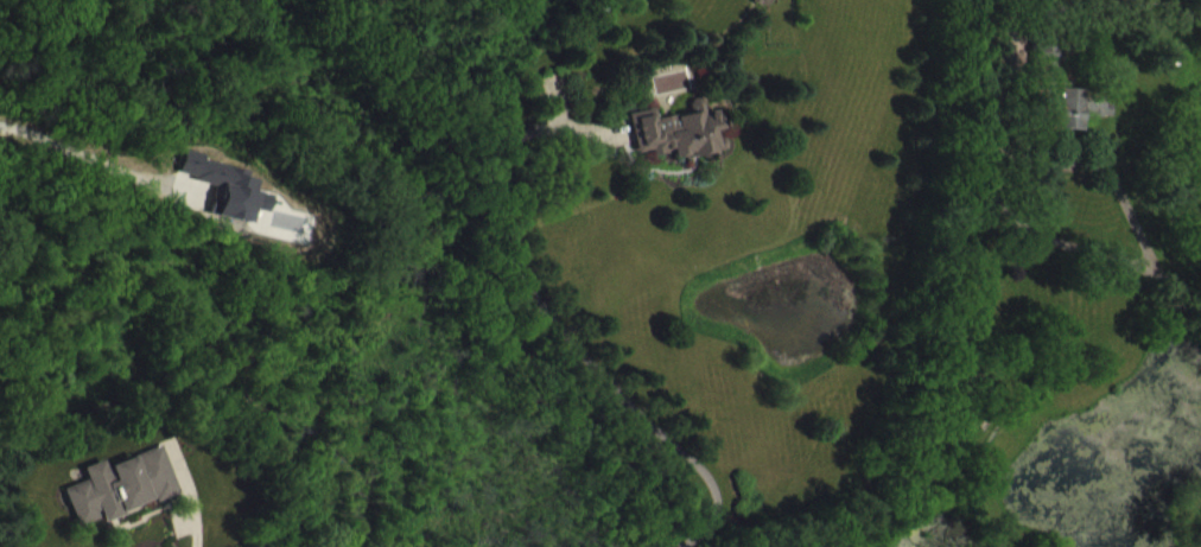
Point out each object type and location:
building: (767, 8)
building: (1066, 107)
building: (681, 147)
road: (1119, 191)
building: (239, 211)
road: (1009, 215)
road: (554, 323)
building: (123, 502)
road: (192, 516)

